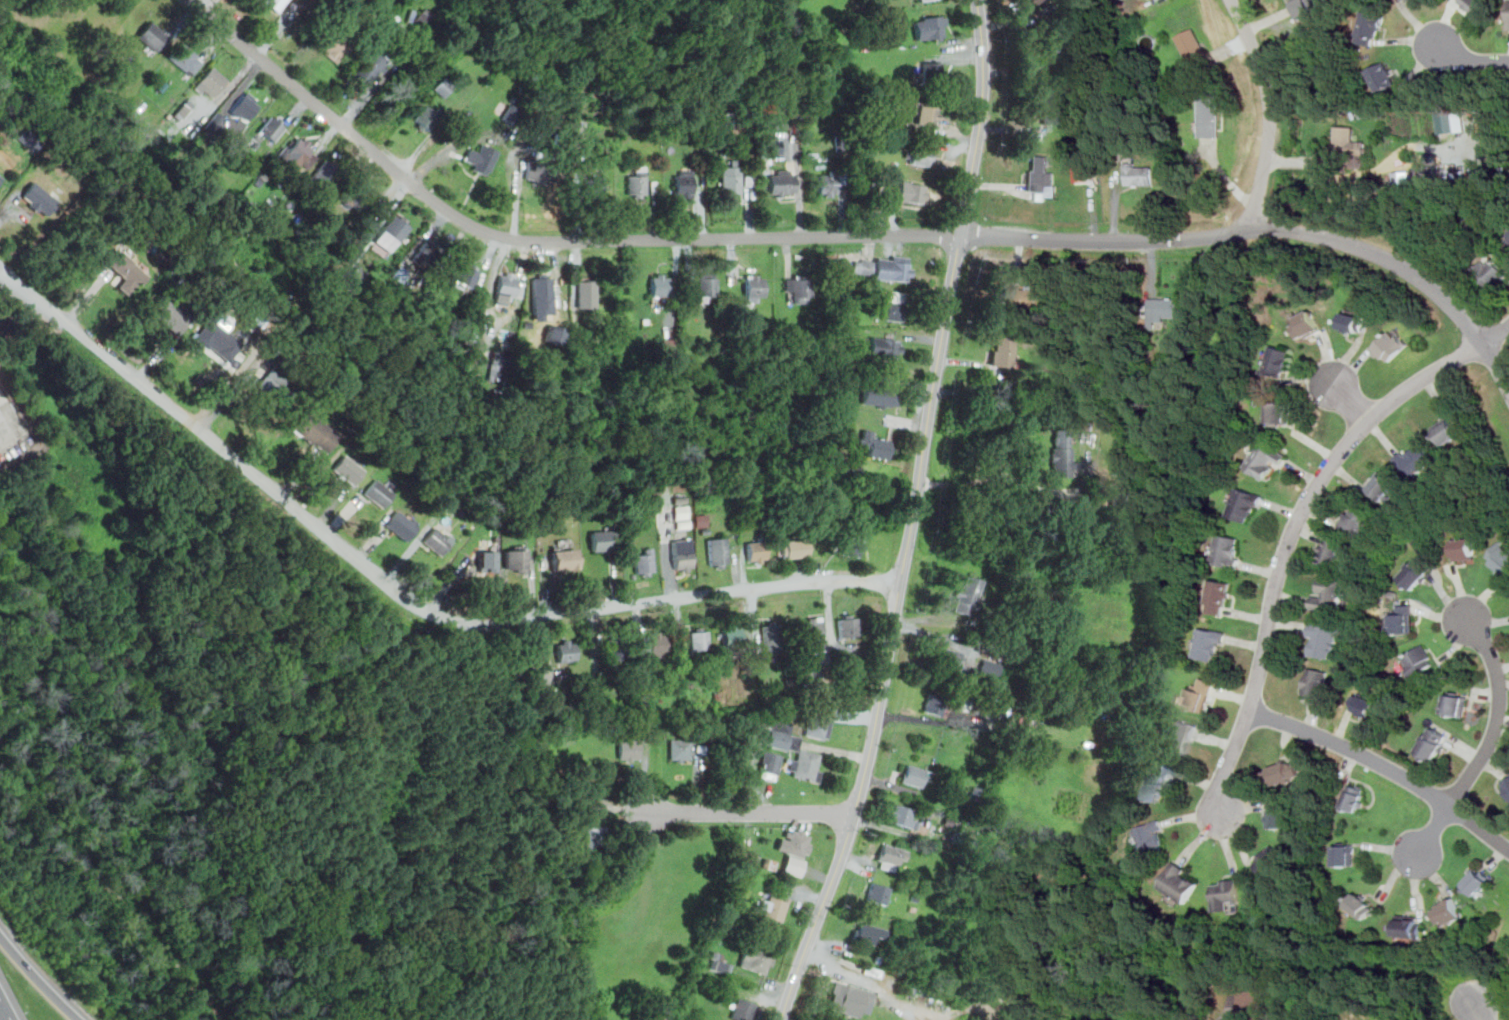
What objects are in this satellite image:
building: (923, 0)
building: (1405, 0)
building: (1037, 1)
building: (1301, 2)
building: (275, 4)
building: (1474, 4)
building: (1508, 15)
building: (423, 17)
building: (930, 27)
building: (1370, 28)
building: (152, 35)
building: (1045, 43)
building: (338, 45)
building: (1193, 48)
building: (185, 58)
road: (1471, 59)
building: (371, 65)
building: (928, 73)
building: (1383, 77)
building: (211, 81)
building: (443, 86)
building: (1049, 105)
building: (245, 107)
road: (1269, 112)
building: (511, 113)
building: (1209, 114)
building: (425, 117)
building: (1451, 121)
building: (272, 127)
building: (1351, 144)
building: (773, 147)
building: (297, 153)
building: (921, 155)
building: (479, 158)
building: (538, 172)
building: (324, 173)
building: (1082, 173)
building: (1141, 173)
building: (1040, 176)
building: (2, 178)
building: (731, 178)
building: (1402, 178)
building: (638, 181)
building: (782, 182)
building: (684, 183)
building: (593, 184)
building: (827, 184)
building: (912, 192)
building: (358, 197)
building: (39, 199)
building: (392, 232)
building: (1508, 237)
road: (683, 238)
building: (426, 252)
road: (1384, 259)
building: (882, 268)
building: (127, 270)
building: (1492, 272)
building: (467, 276)
building: (542, 285)
building: (707, 286)
building: (660, 287)
building: (754, 287)
building: (799, 287)
building: (506, 288)
building: (587, 293)
building: (1036, 299)
building: (895, 306)
building: (1169, 307)
building: (169, 315)
building: (1354, 322)
building: (1307, 324)
building: (220, 339)
road: (1499, 343)
building: (1391, 345)
building: (885, 347)
building: (1003, 351)
road: (1506, 354)
building: (1277, 360)
building: (498, 365)
road: (1496, 365)
building: (274, 390)
building: (879, 394)
road: (1352, 404)
building: (1279, 413)
building: (1, 416)
road: (14, 421)
building: (1449, 430)
building: (316, 431)
building: (874, 443)
building: (1061, 453)
building: (1265, 459)
building: (1417, 459)
building: (348, 470)
road: (985, 477)
building: (1383, 485)
building: (380, 492)
building: (1122, 499)
building: (1244, 505)
road: (912, 515)
building: (699, 520)
building: (1357, 521)
road: (1296, 523)
building: (400, 526)
building: (439, 540)
building: (604, 540)
building: (851, 547)
building: (793, 548)
building: (1464, 548)
building: (1227, 550)
building: (1330, 550)
building: (717, 552)
building: (756, 552)
building: (682, 555)
building: (1500, 556)
building: (516, 559)
building: (565, 559)
building: (488, 560)
building: (643, 562)
building: (1417, 572)
road: (399, 591)
building: (1330, 592)
building: (967, 594)
building: (1219, 597)
building: (1403, 620)
building: (847, 626)
building: (812, 633)
building: (732, 637)
building: (700, 638)
building: (770, 638)
building: (1323, 639)
building: (1209, 644)
building: (617, 647)
building: (653, 647)
building: (566, 650)
building: (949, 660)
building: (1418, 660)
building: (989, 668)
building: (1315, 683)
building: (1199, 695)
building: (933, 704)
building: (1455, 704)
building: (1364, 705)
building: (818, 724)
building: (777, 734)
building: (1177, 735)
road: (1488, 741)
building: (1433, 743)
building: (629, 749)
building: (680, 749)
building: (770, 763)
building: (806, 766)
road: (1385, 766)
building: (1286, 772)
building: (913, 775)
building: (1158, 781)
building: (1506, 784)
building: (1355, 797)
road: (752, 812)
building: (1278, 815)
building: (901, 816)
building: (596, 838)
building: (1151, 838)
building: (794, 843)
building: (1344, 855)
building: (890, 856)
building: (1270, 860)
building: (794, 866)
building: (1477, 881)
building: (1179, 883)
building: (877, 893)
building: (1224, 893)
building: (1361, 905)
building: (774, 907)
building: (1448, 912)
building: (1408, 925)
building: (867, 932)
building: (759, 959)
building: (720, 966)
road: (38, 979)
building: (848, 1000)
building: (1256, 1001)
building: (743, 1009)
road: (1479, 1012)
road: (3, 1014)
building: (659, 1019)

